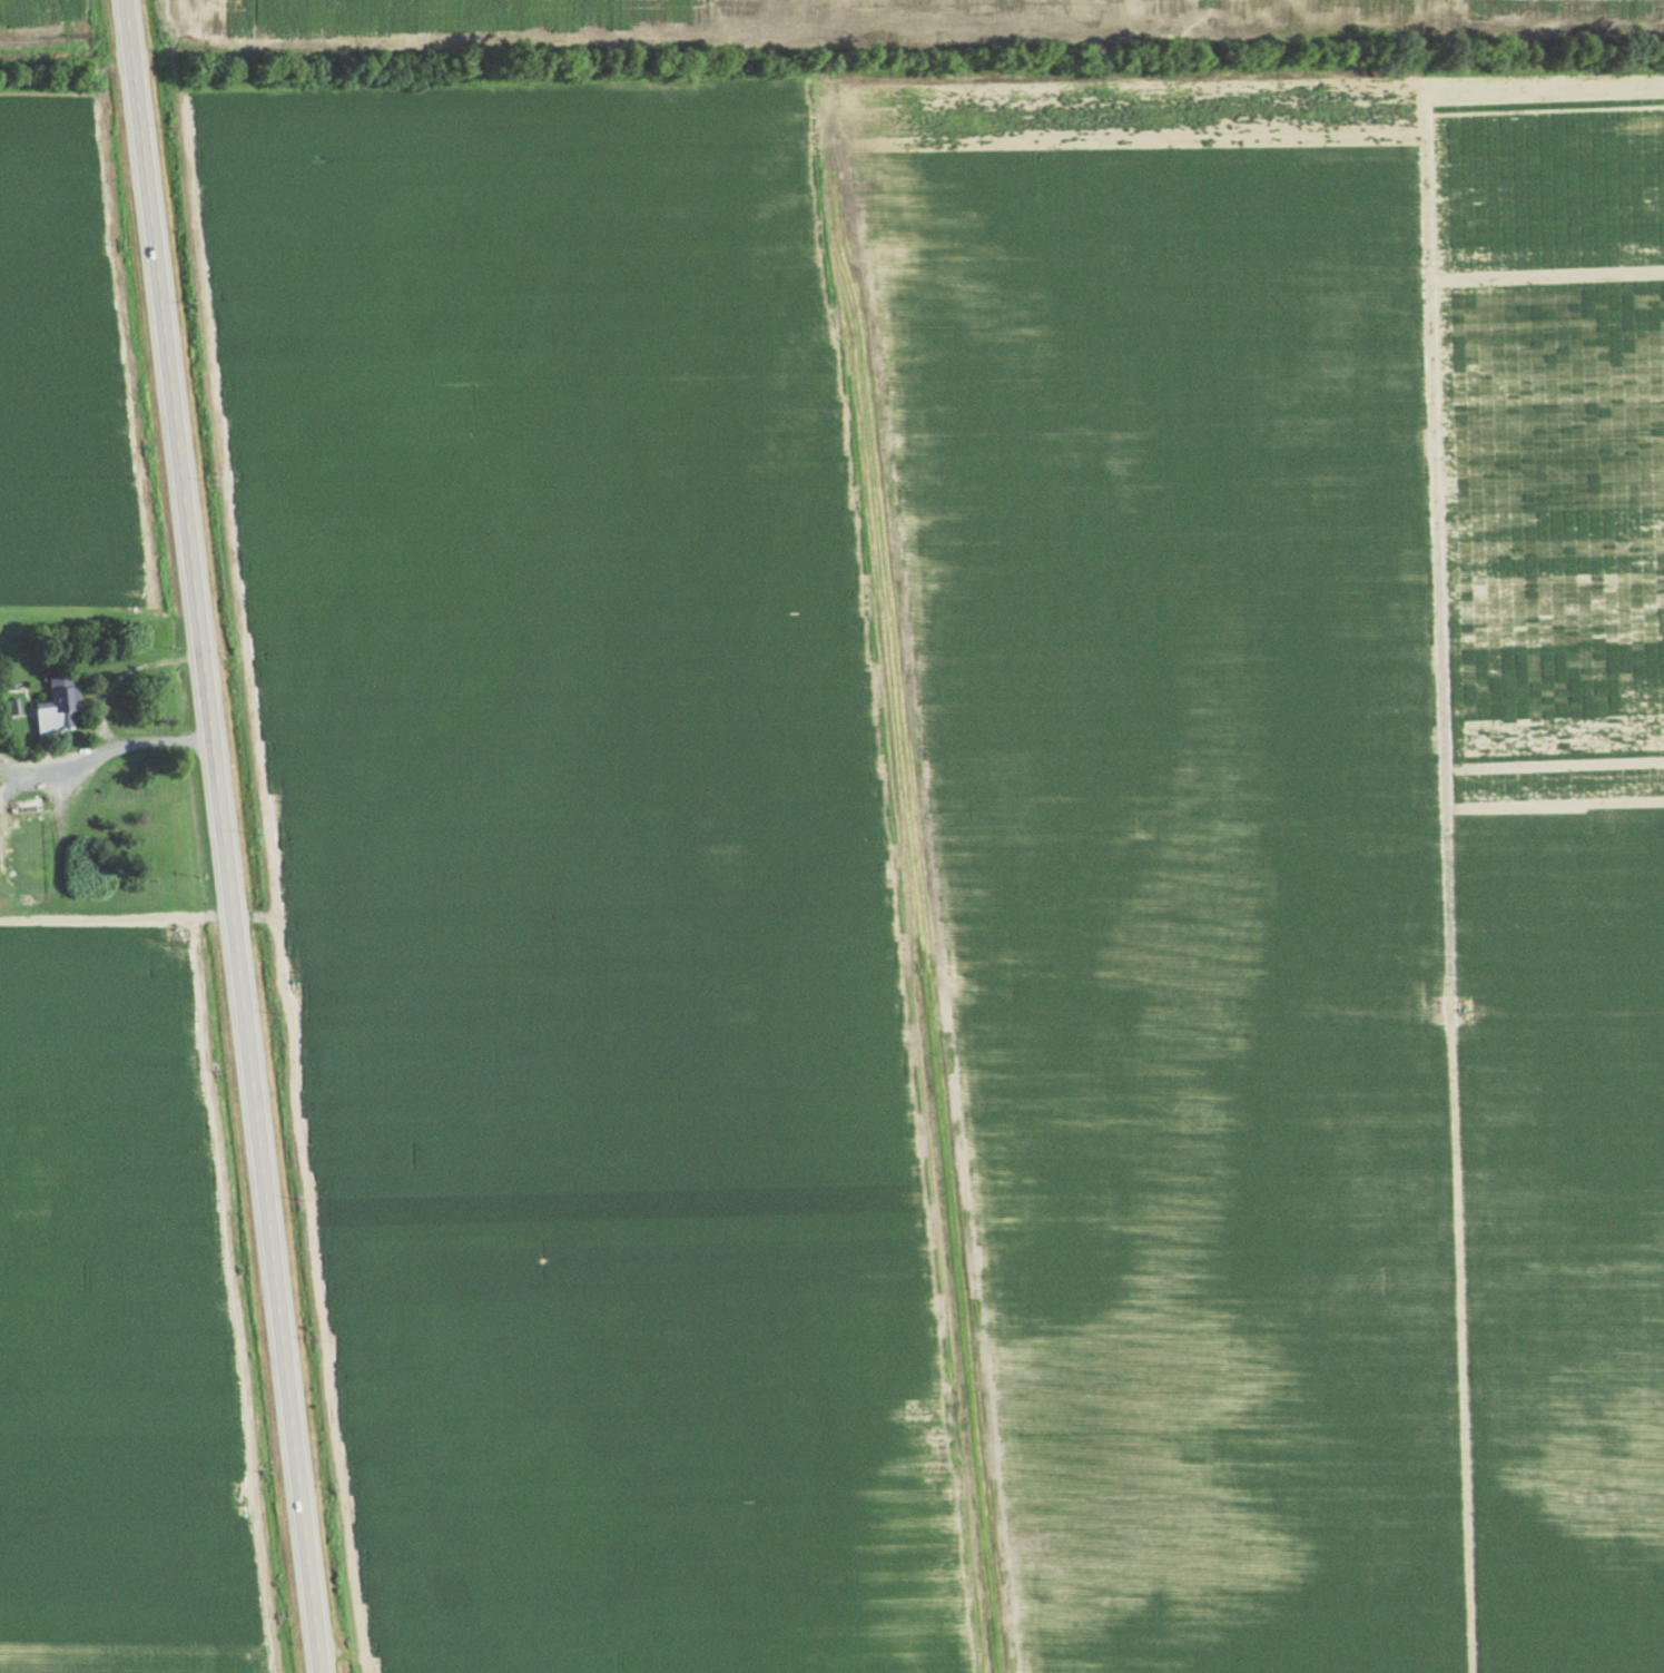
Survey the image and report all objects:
road: (68, 90)
road: (105, 710)
road: (223, 836)
road: (343, 1657)

